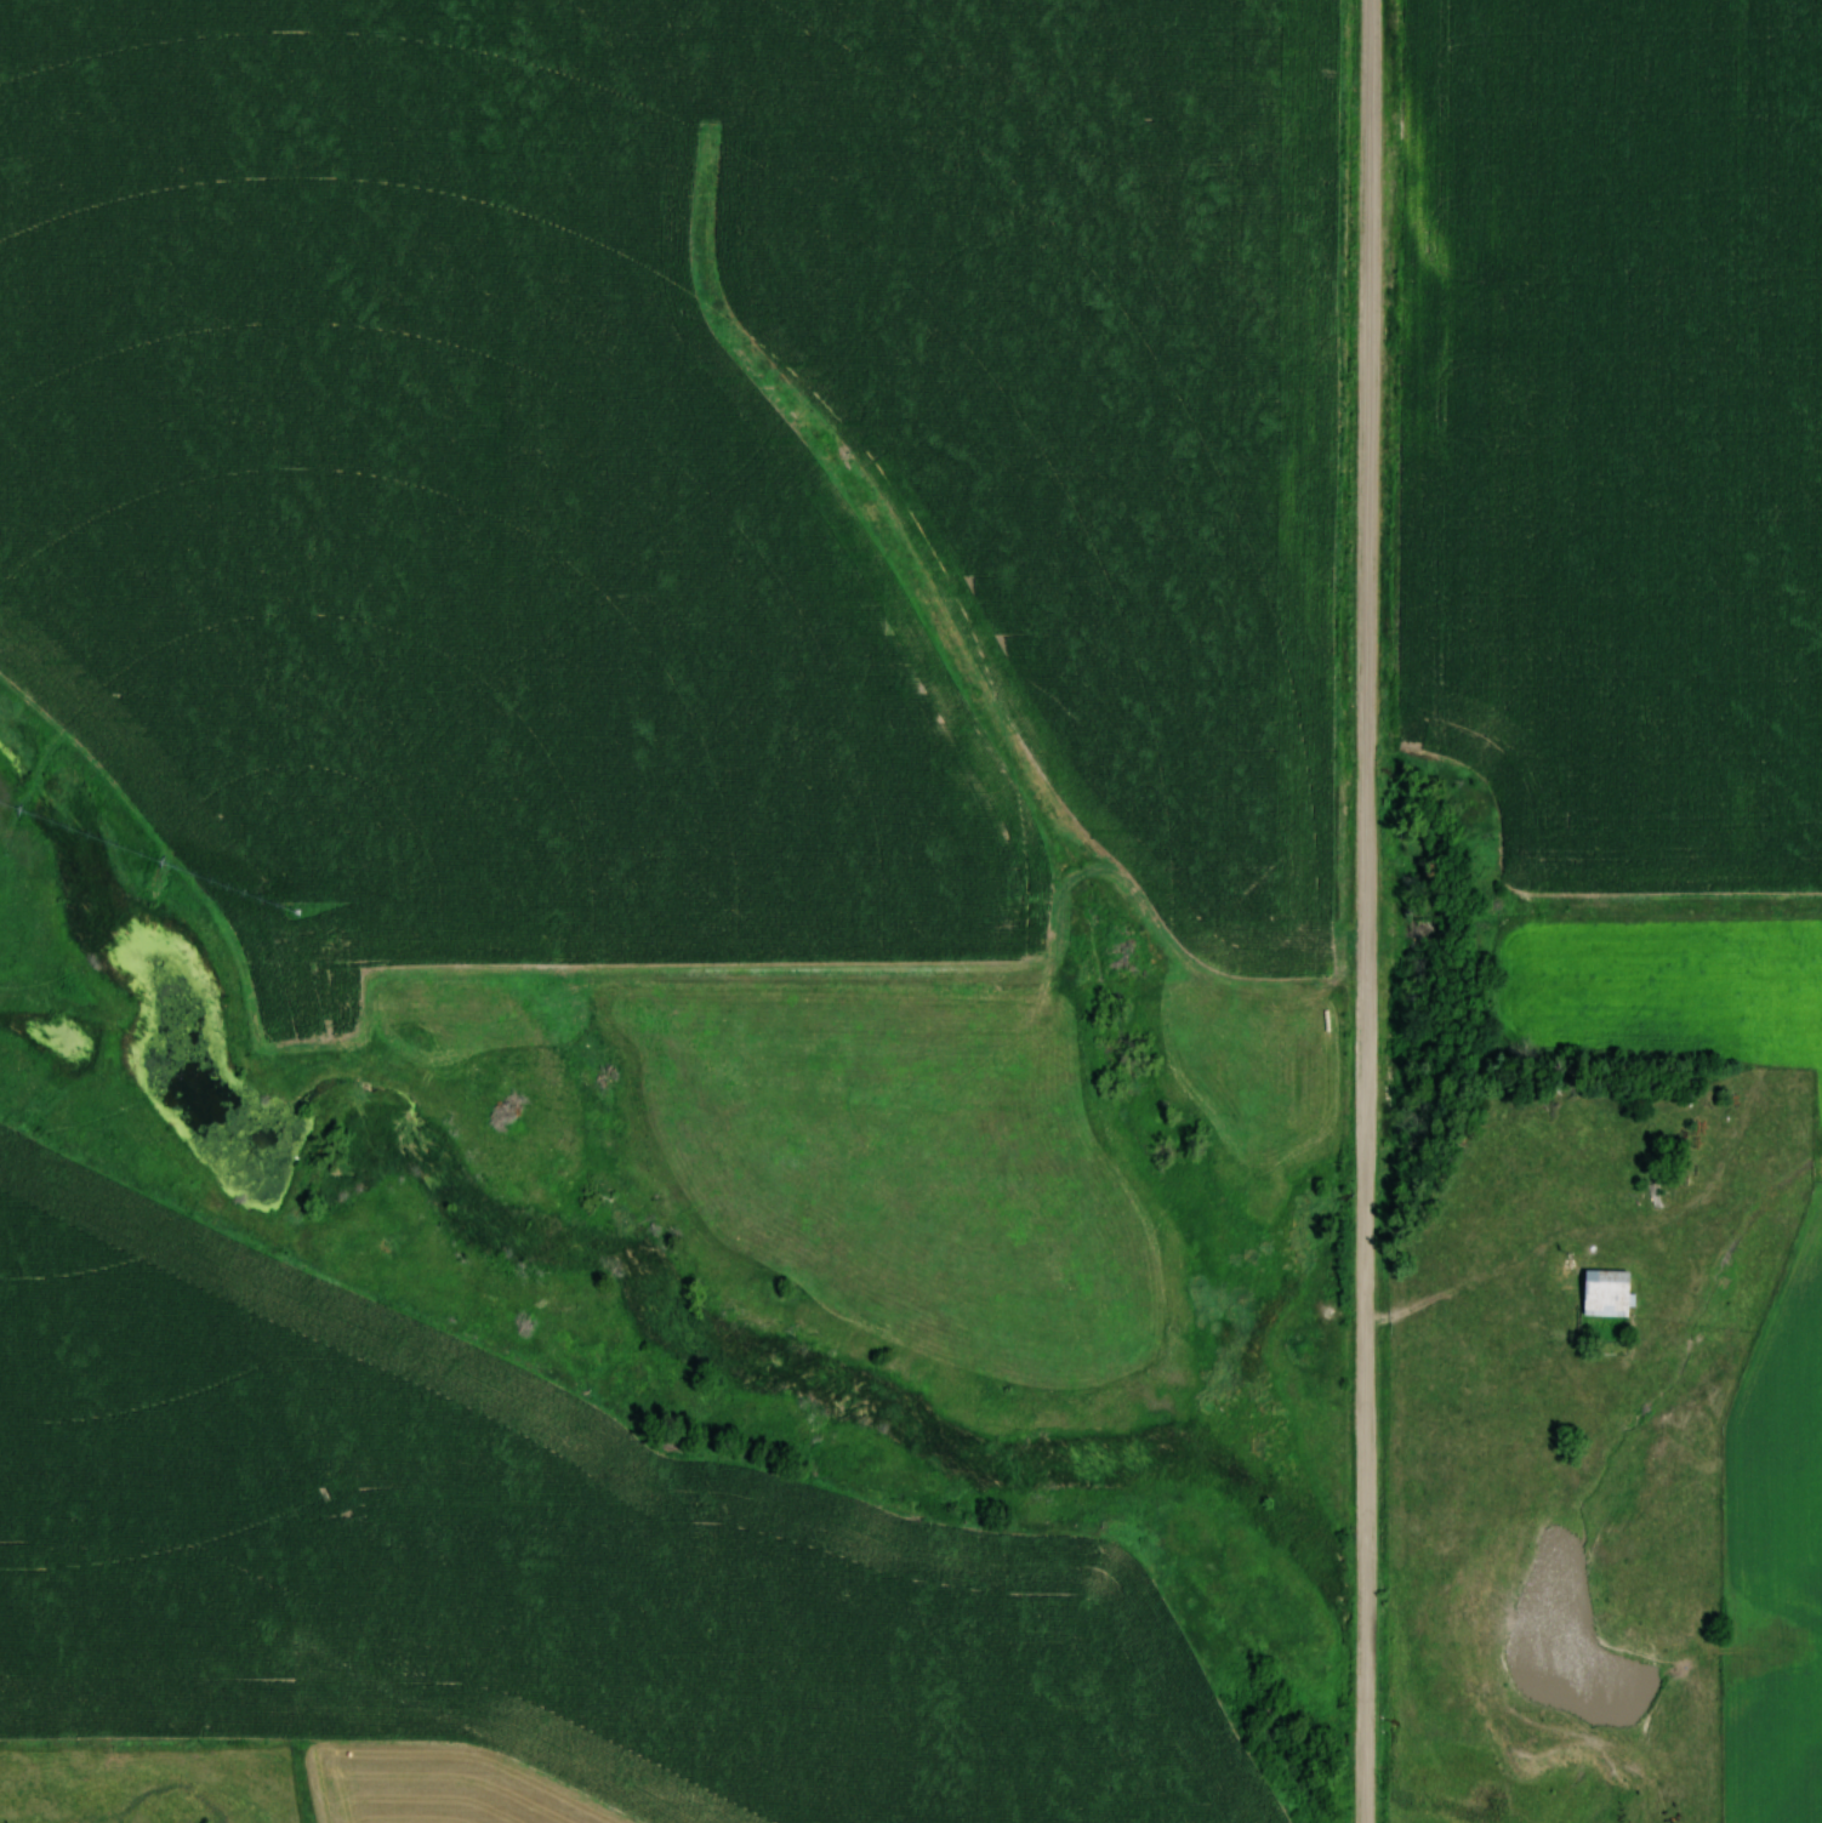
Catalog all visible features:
road: (1370, 911)
building: (1612, 1293)

